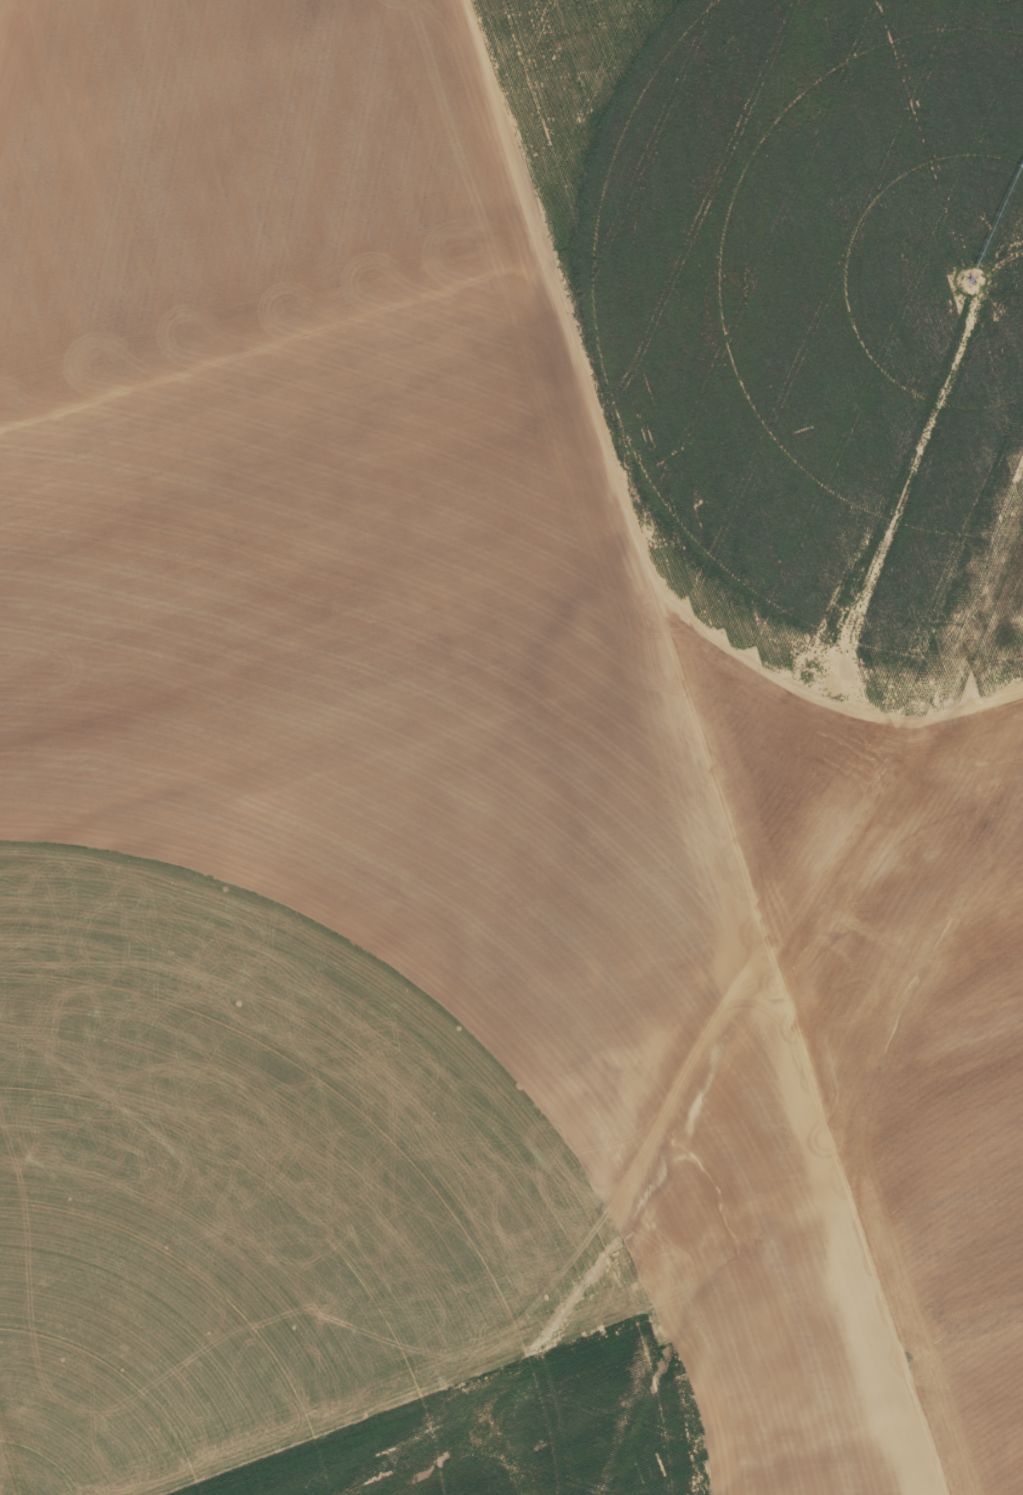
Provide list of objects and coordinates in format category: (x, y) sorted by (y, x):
road: (10, 31)
road: (693, 753)
road: (1, 1489)

